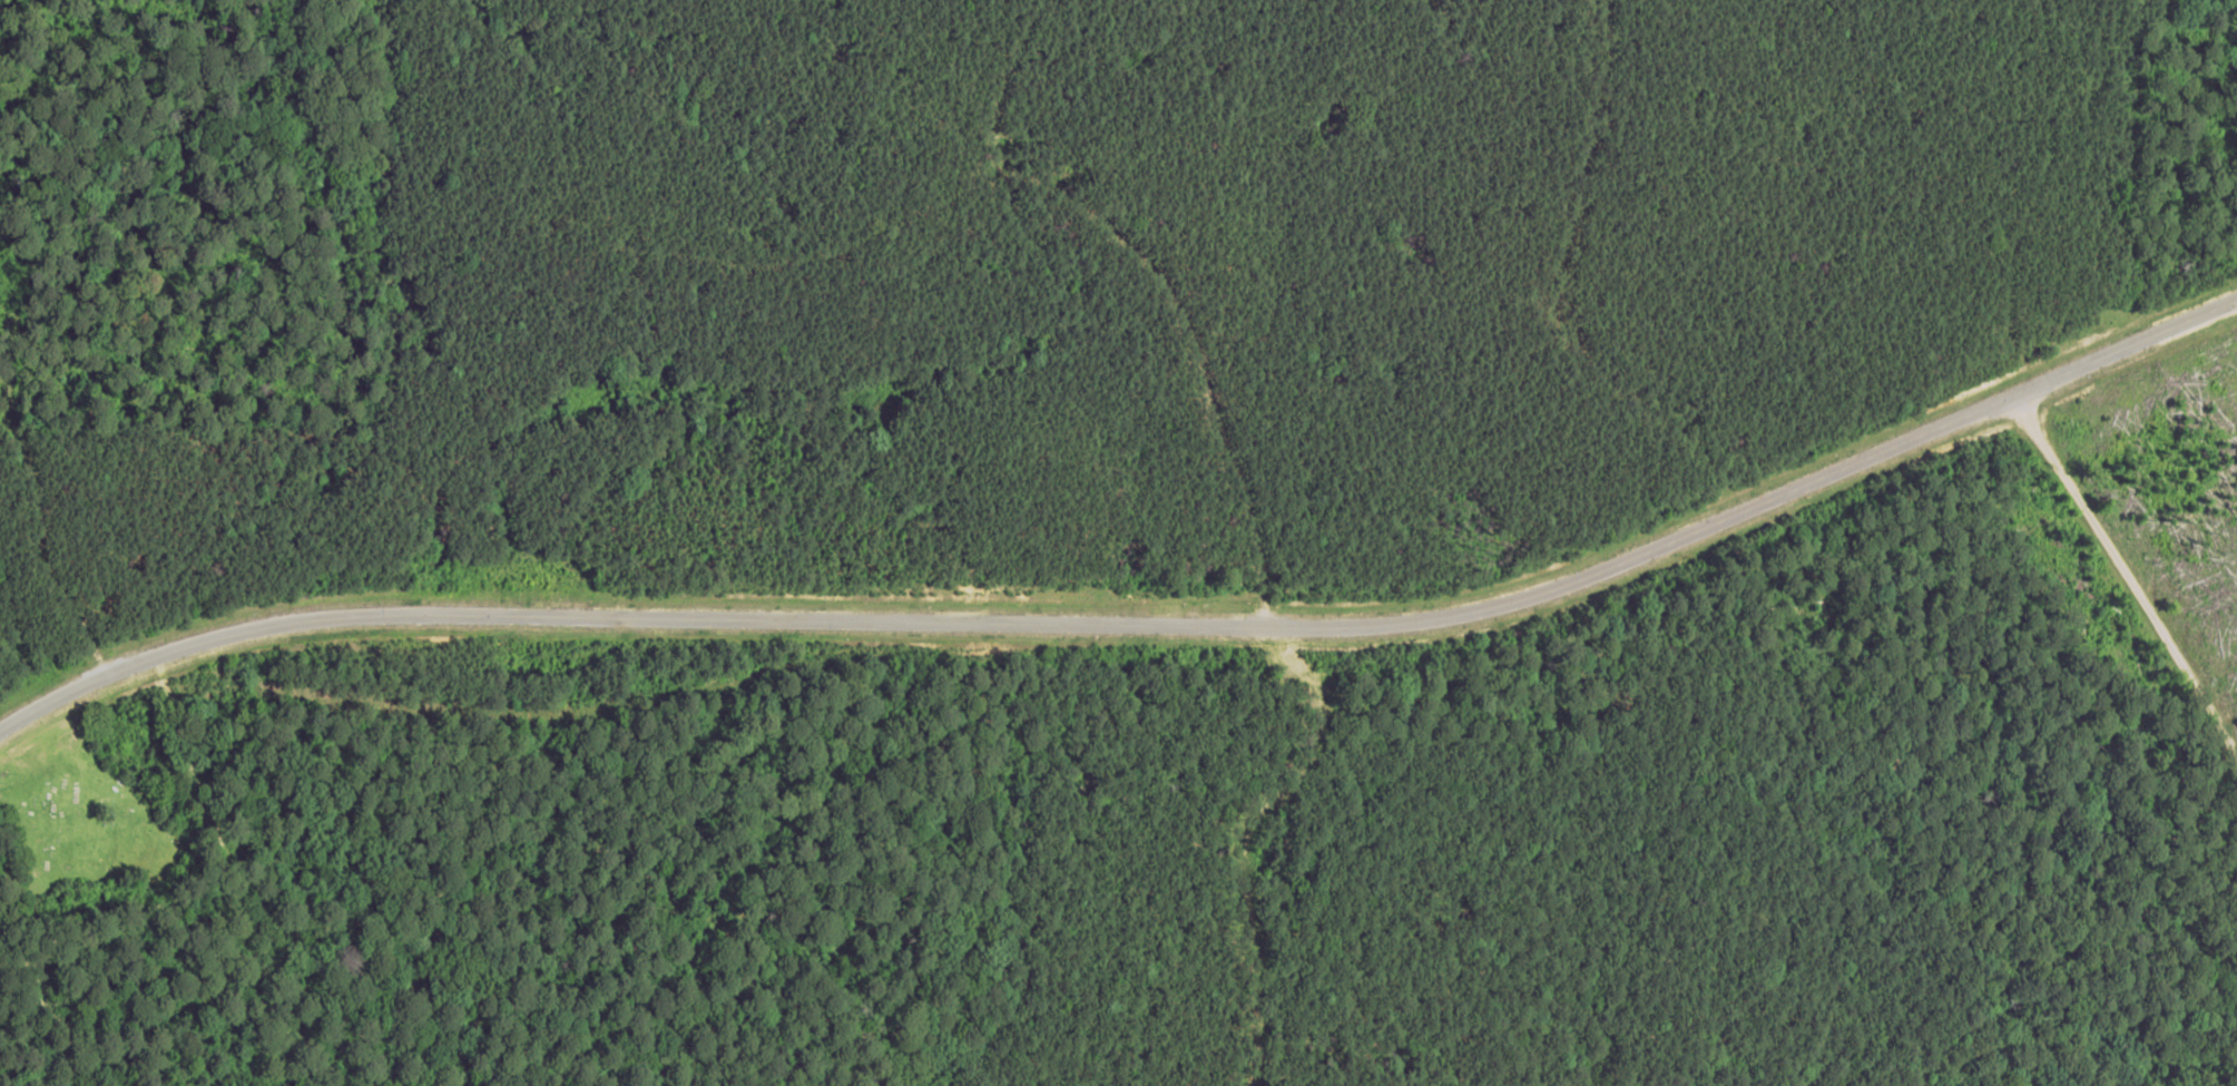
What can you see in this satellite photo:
road: (1138, 625)

